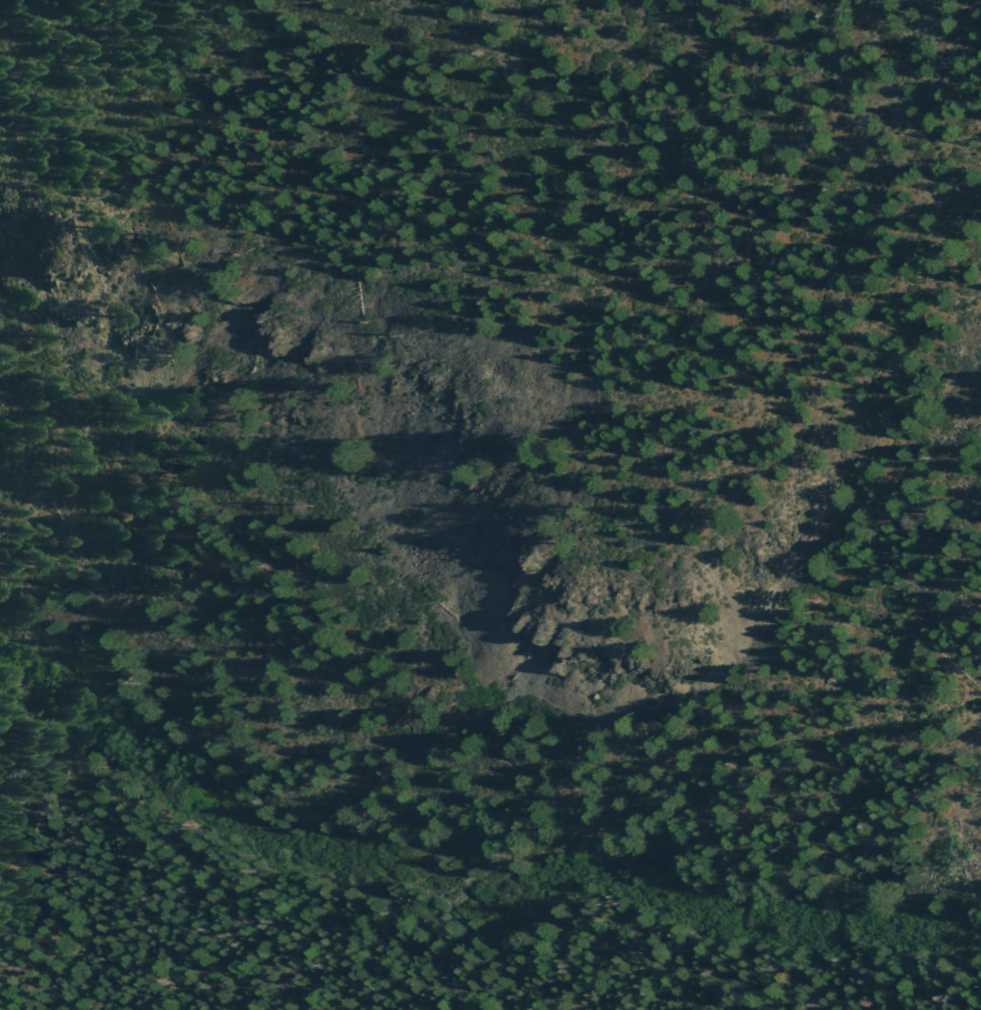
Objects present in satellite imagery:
road: (467, 806)

